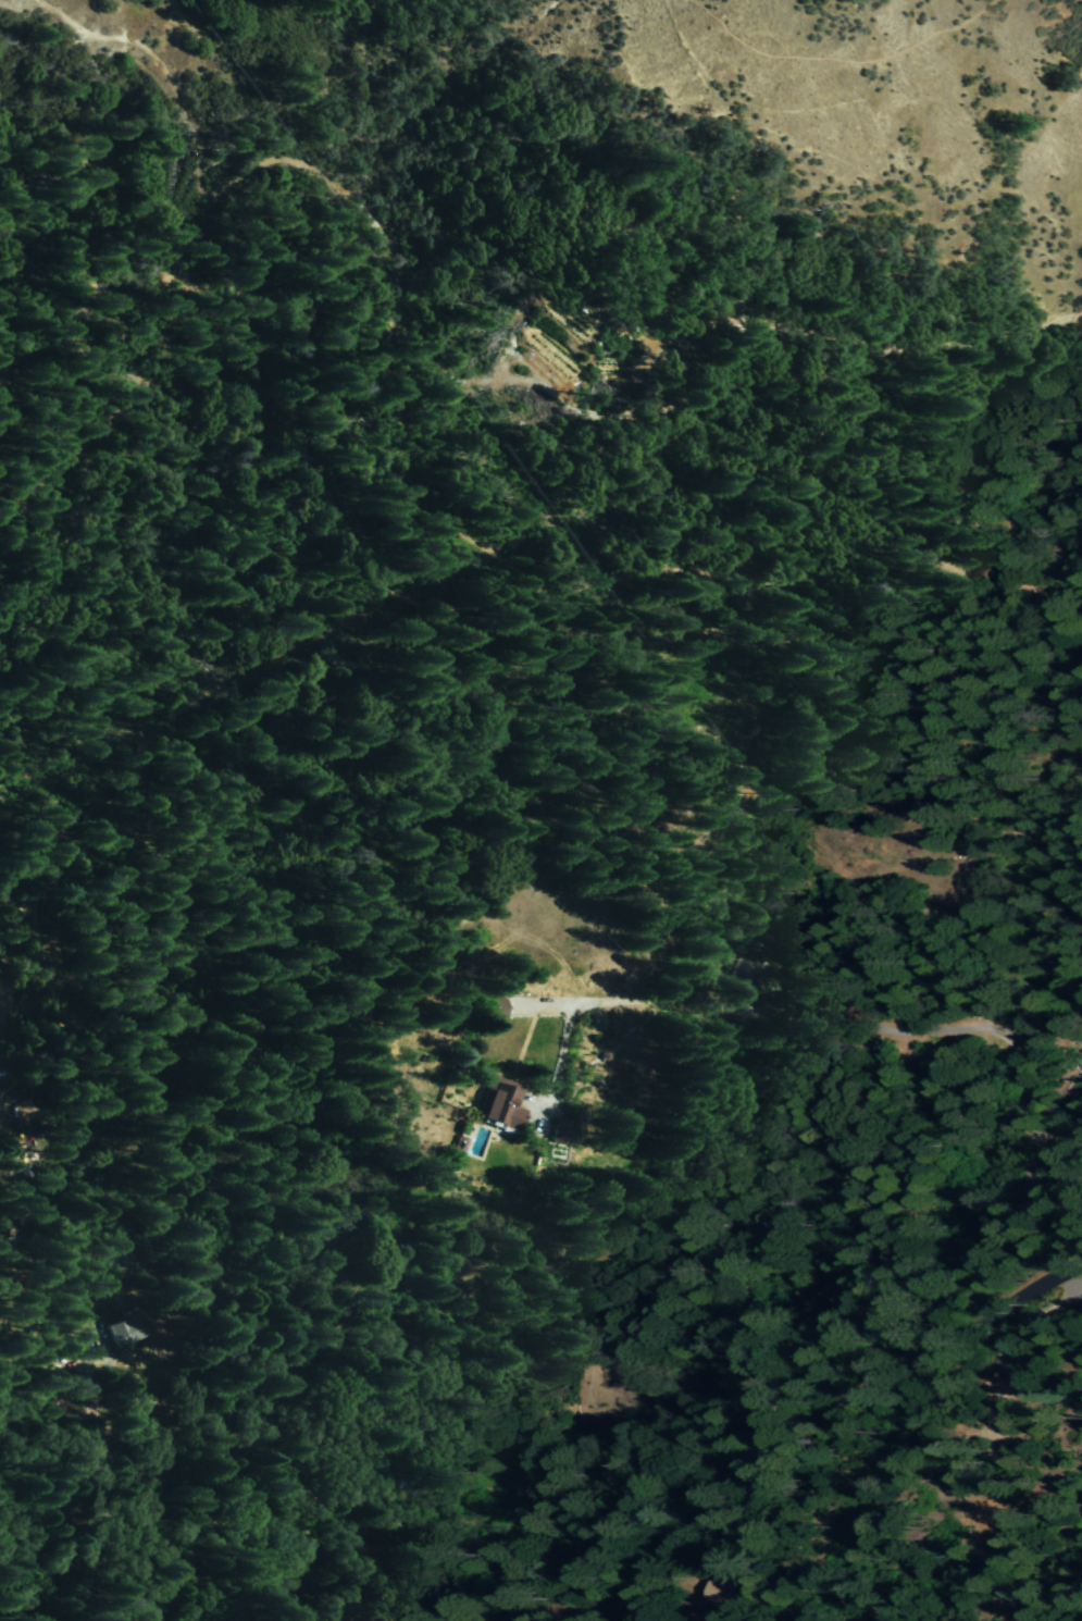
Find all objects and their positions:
road: (838, 57)
road: (847, 339)
road: (402, 571)
road: (892, 1029)
building: (499, 1104)
building: (121, 1332)
road: (830, 1415)

